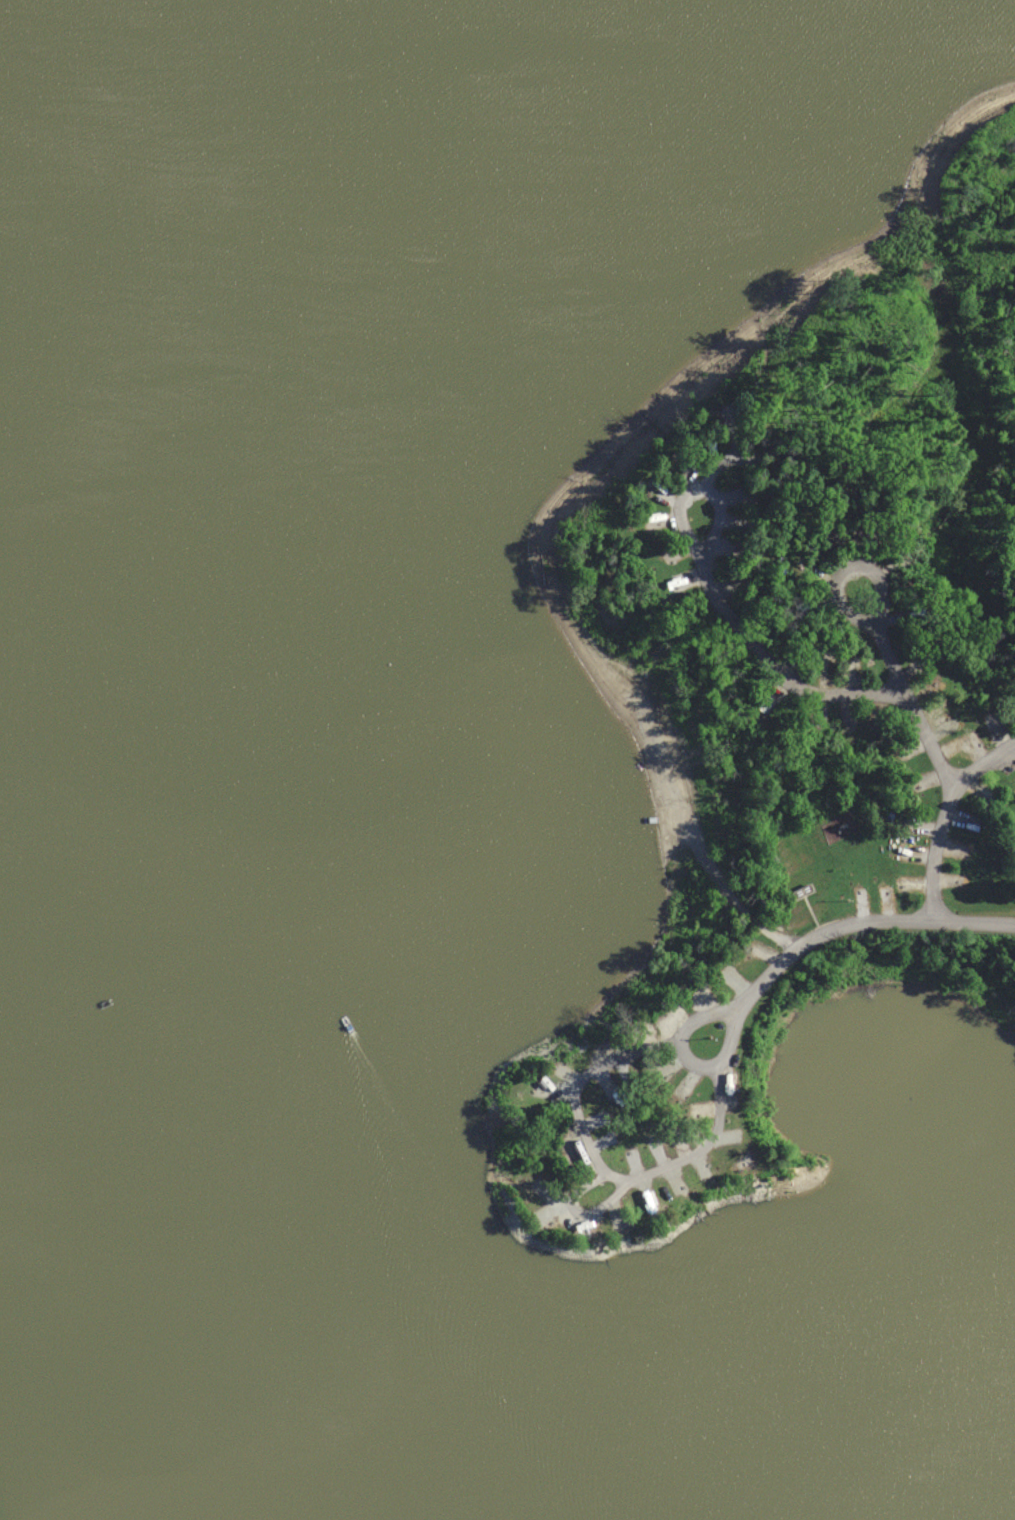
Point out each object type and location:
road: (738, 519)
road: (875, 638)
road: (887, 695)
road: (984, 766)
building: (840, 829)
road: (850, 919)
road: (686, 1065)

